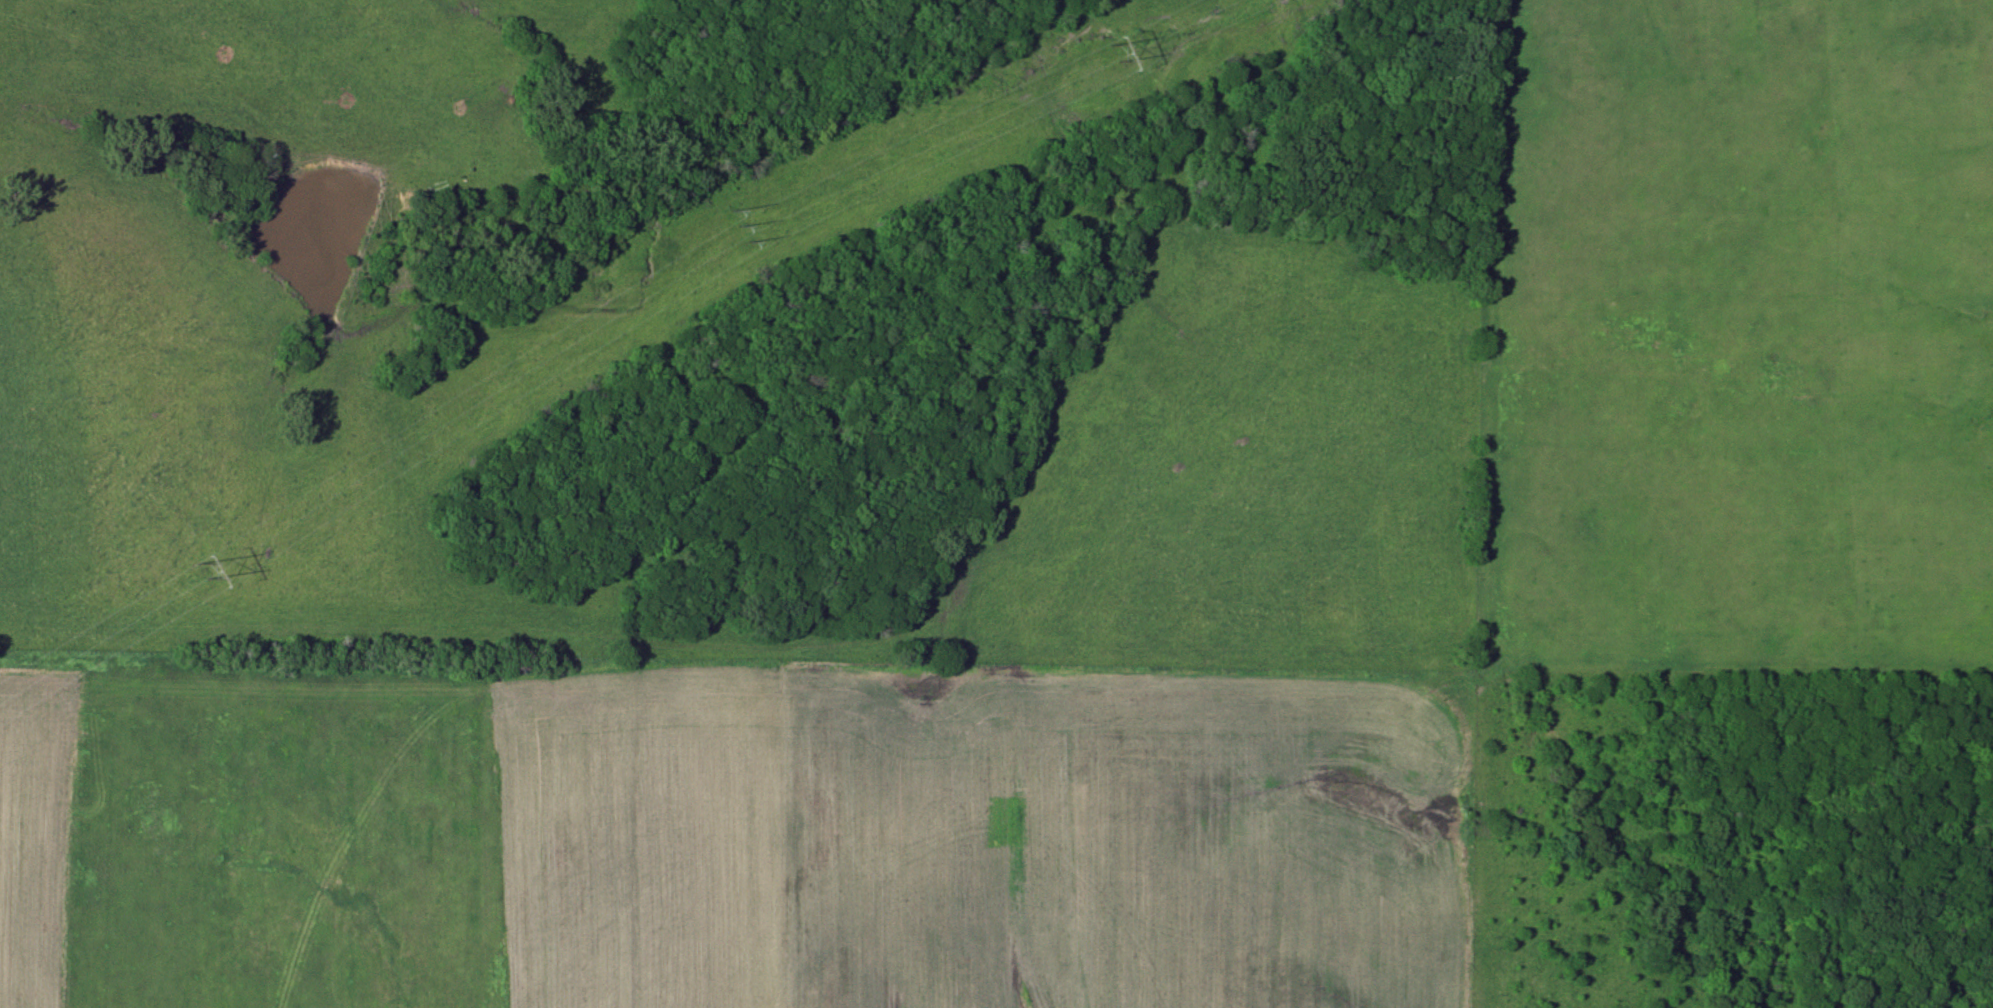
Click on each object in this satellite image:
power tower: (1108, 60)
power tower: (745, 230)
power tower: (190, 555)

